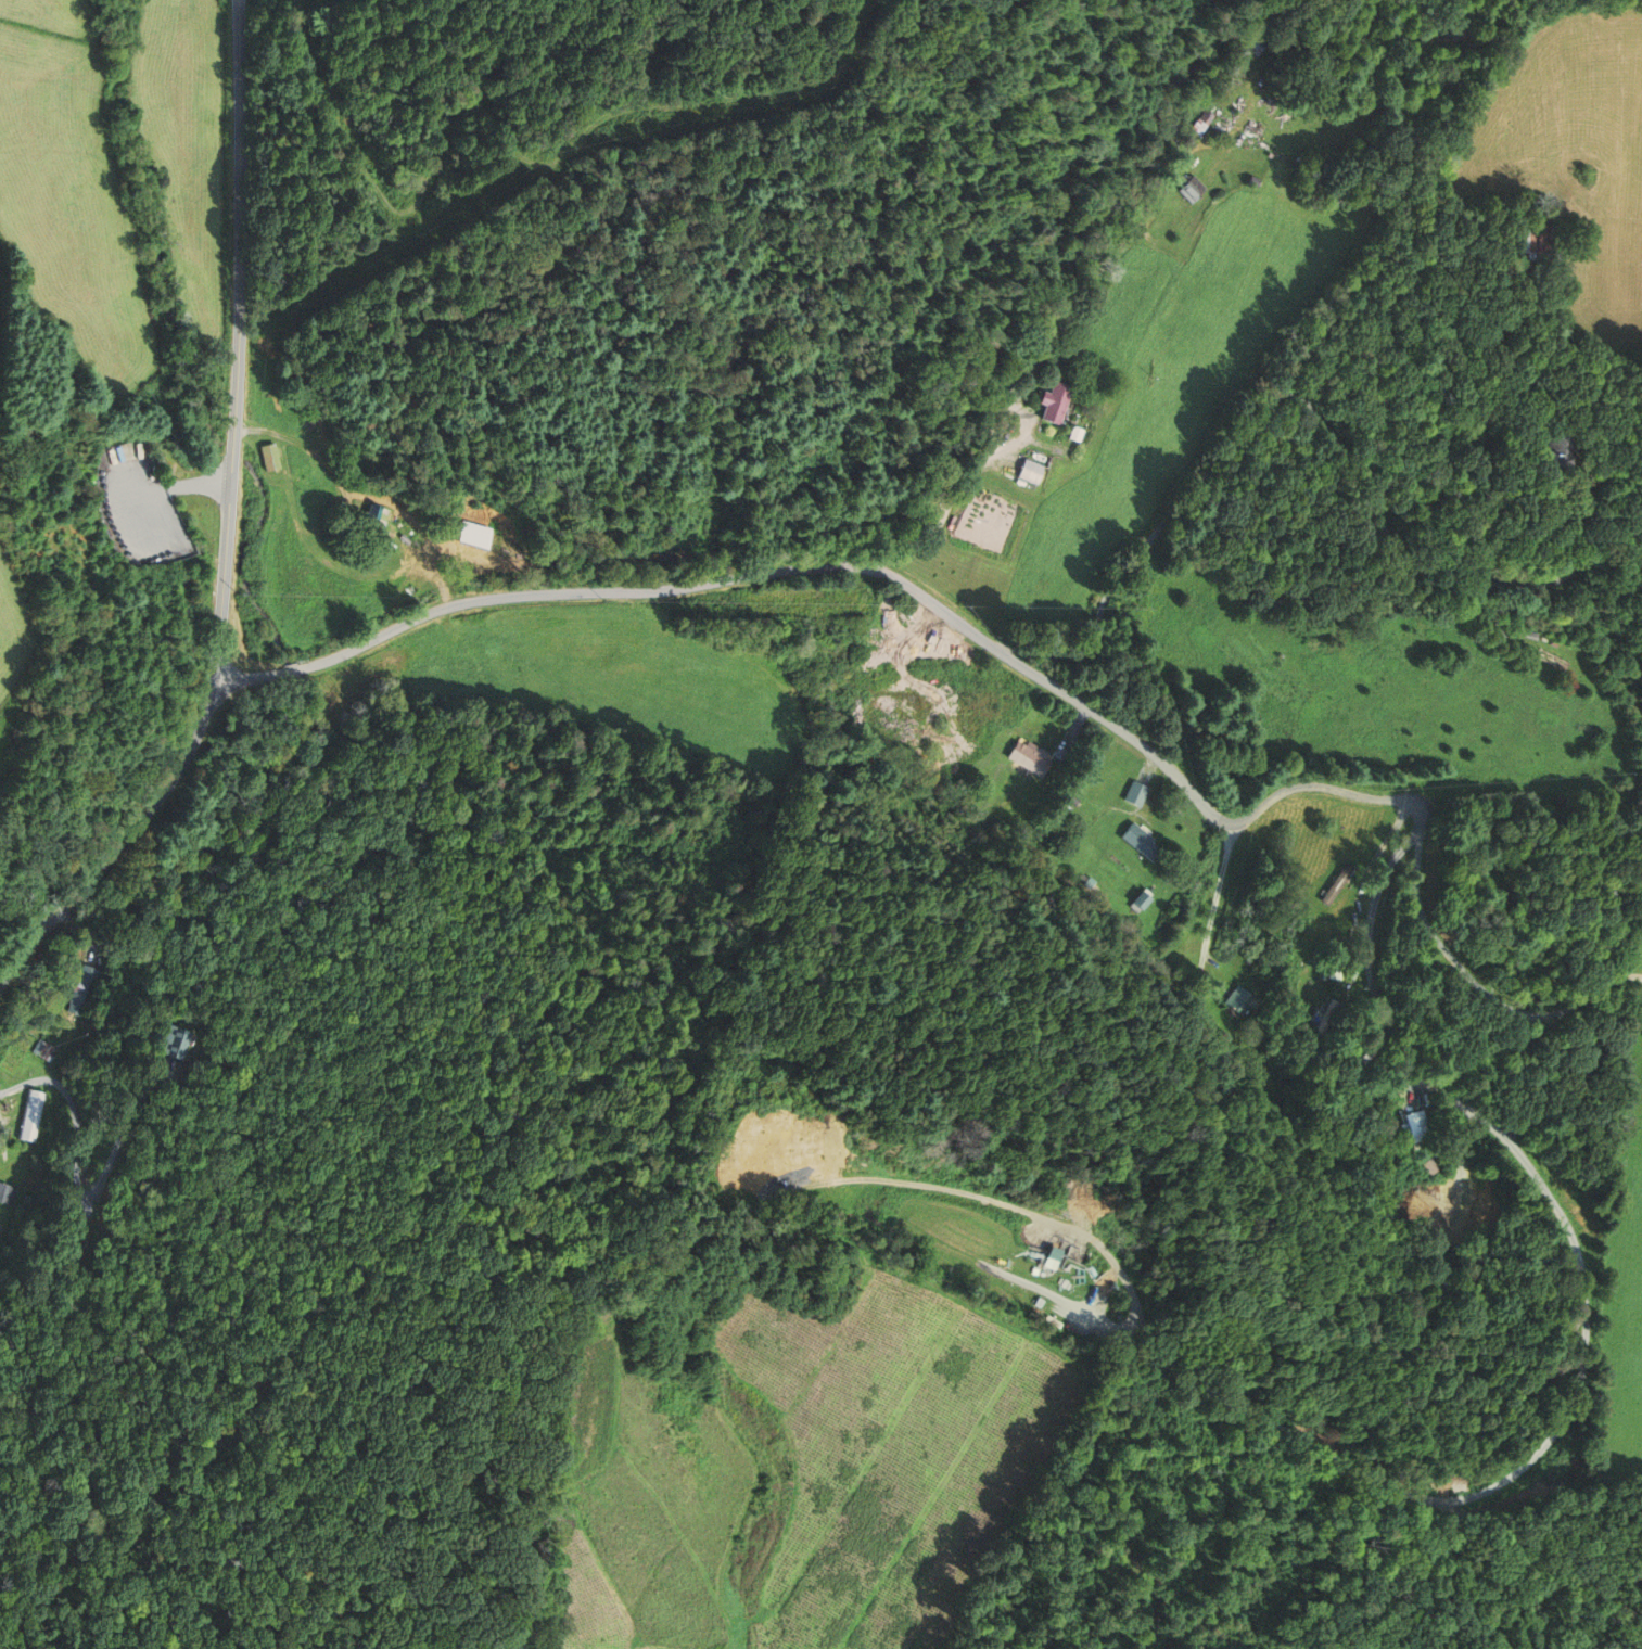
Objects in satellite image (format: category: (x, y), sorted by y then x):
building: (1255, 49)
building: (1202, 123)
road: (523, 156)
building: (1192, 190)
road: (1402, 209)
building: (1551, 238)
building: (1535, 240)
road: (1295, 394)
building: (1056, 402)
building: (1562, 449)
building: (268, 457)
building: (1029, 471)
building: (372, 523)
road: (228, 526)
building: (1502, 628)
road: (292, 669)
road: (250, 677)
building: (1026, 759)
building: (1134, 794)
building: (1138, 843)
road: (1366, 880)
building: (1339, 883)
road: (1220, 887)
road: (1440, 941)
building: (82, 990)
building: (1236, 1001)
building: (1326, 1021)
building: (176, 1041)
building: (43, 1051)
building: (31, 1116)
building: (1416, 1126)
road: (75, 1184)
building: (7, 1194)

